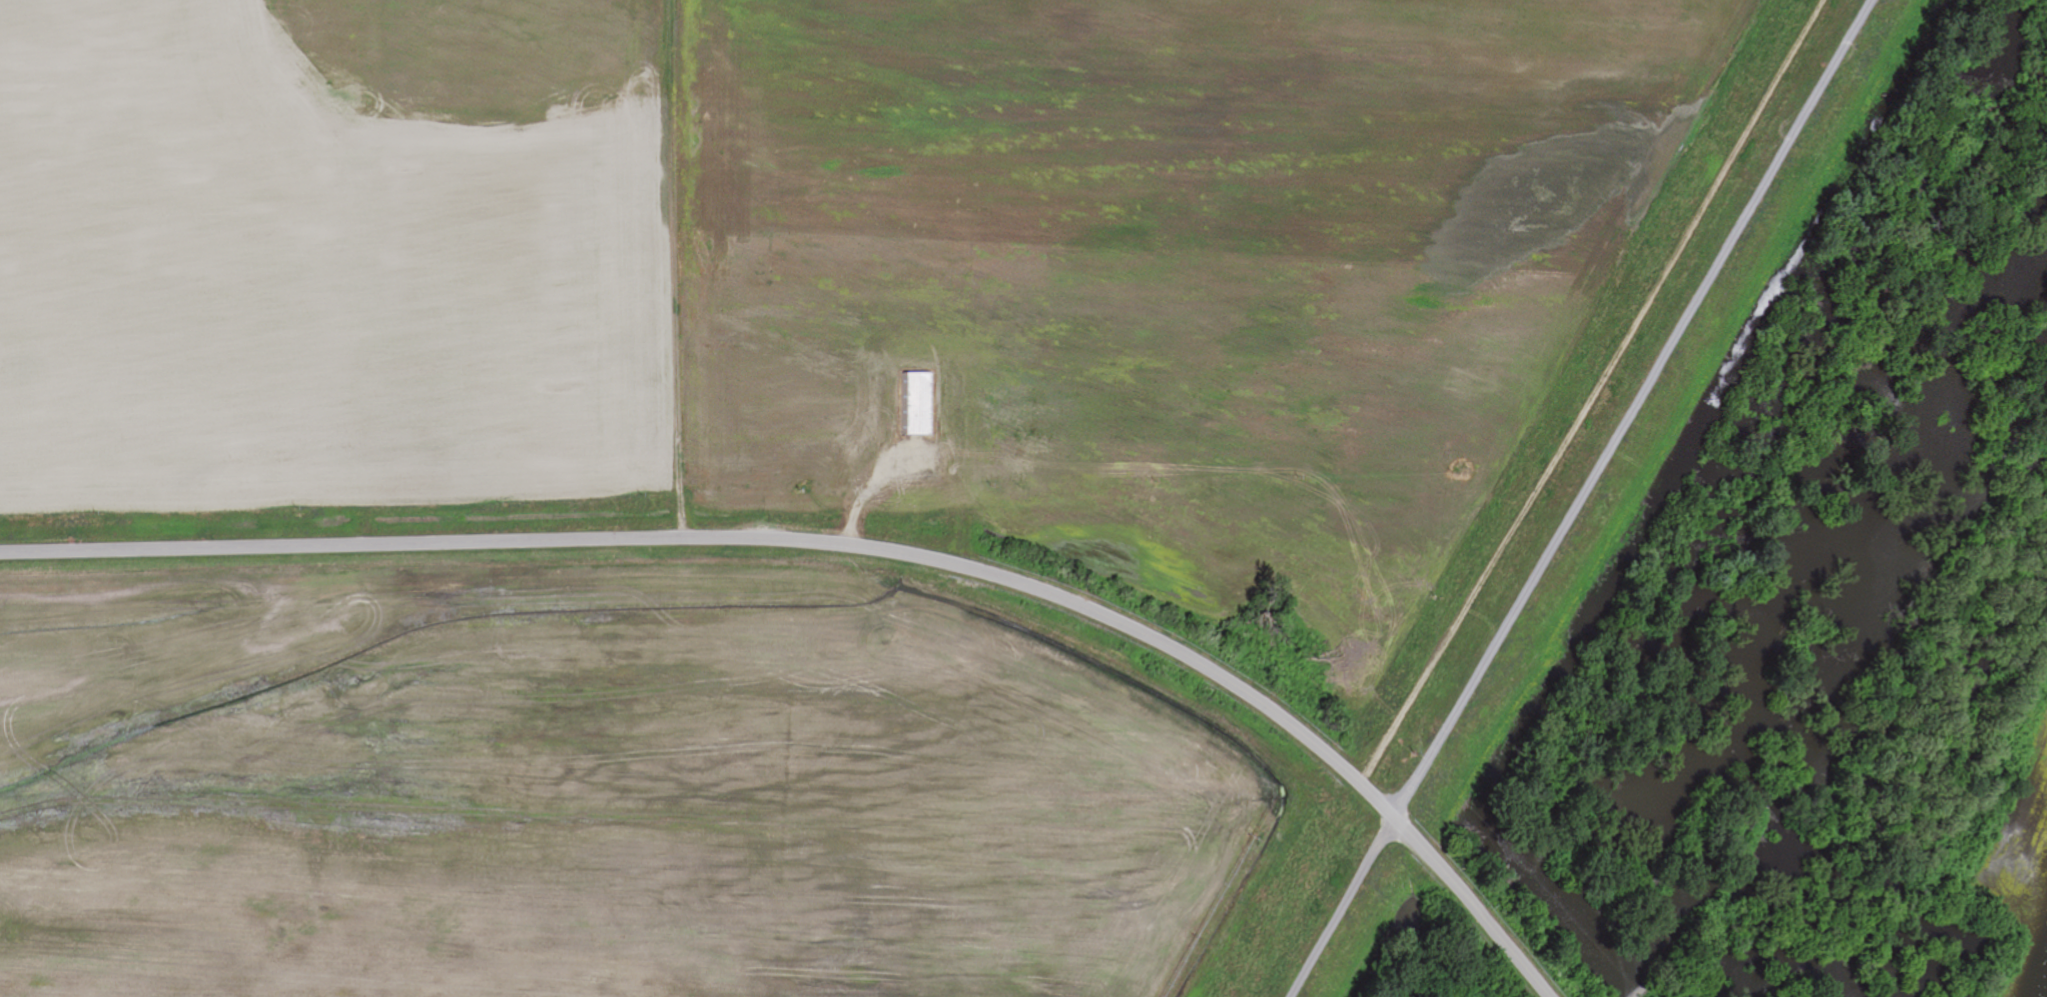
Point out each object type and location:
road: (1597, 393)
road: (1633, 407)
road: (852, 546)
road: (1345, 906)

